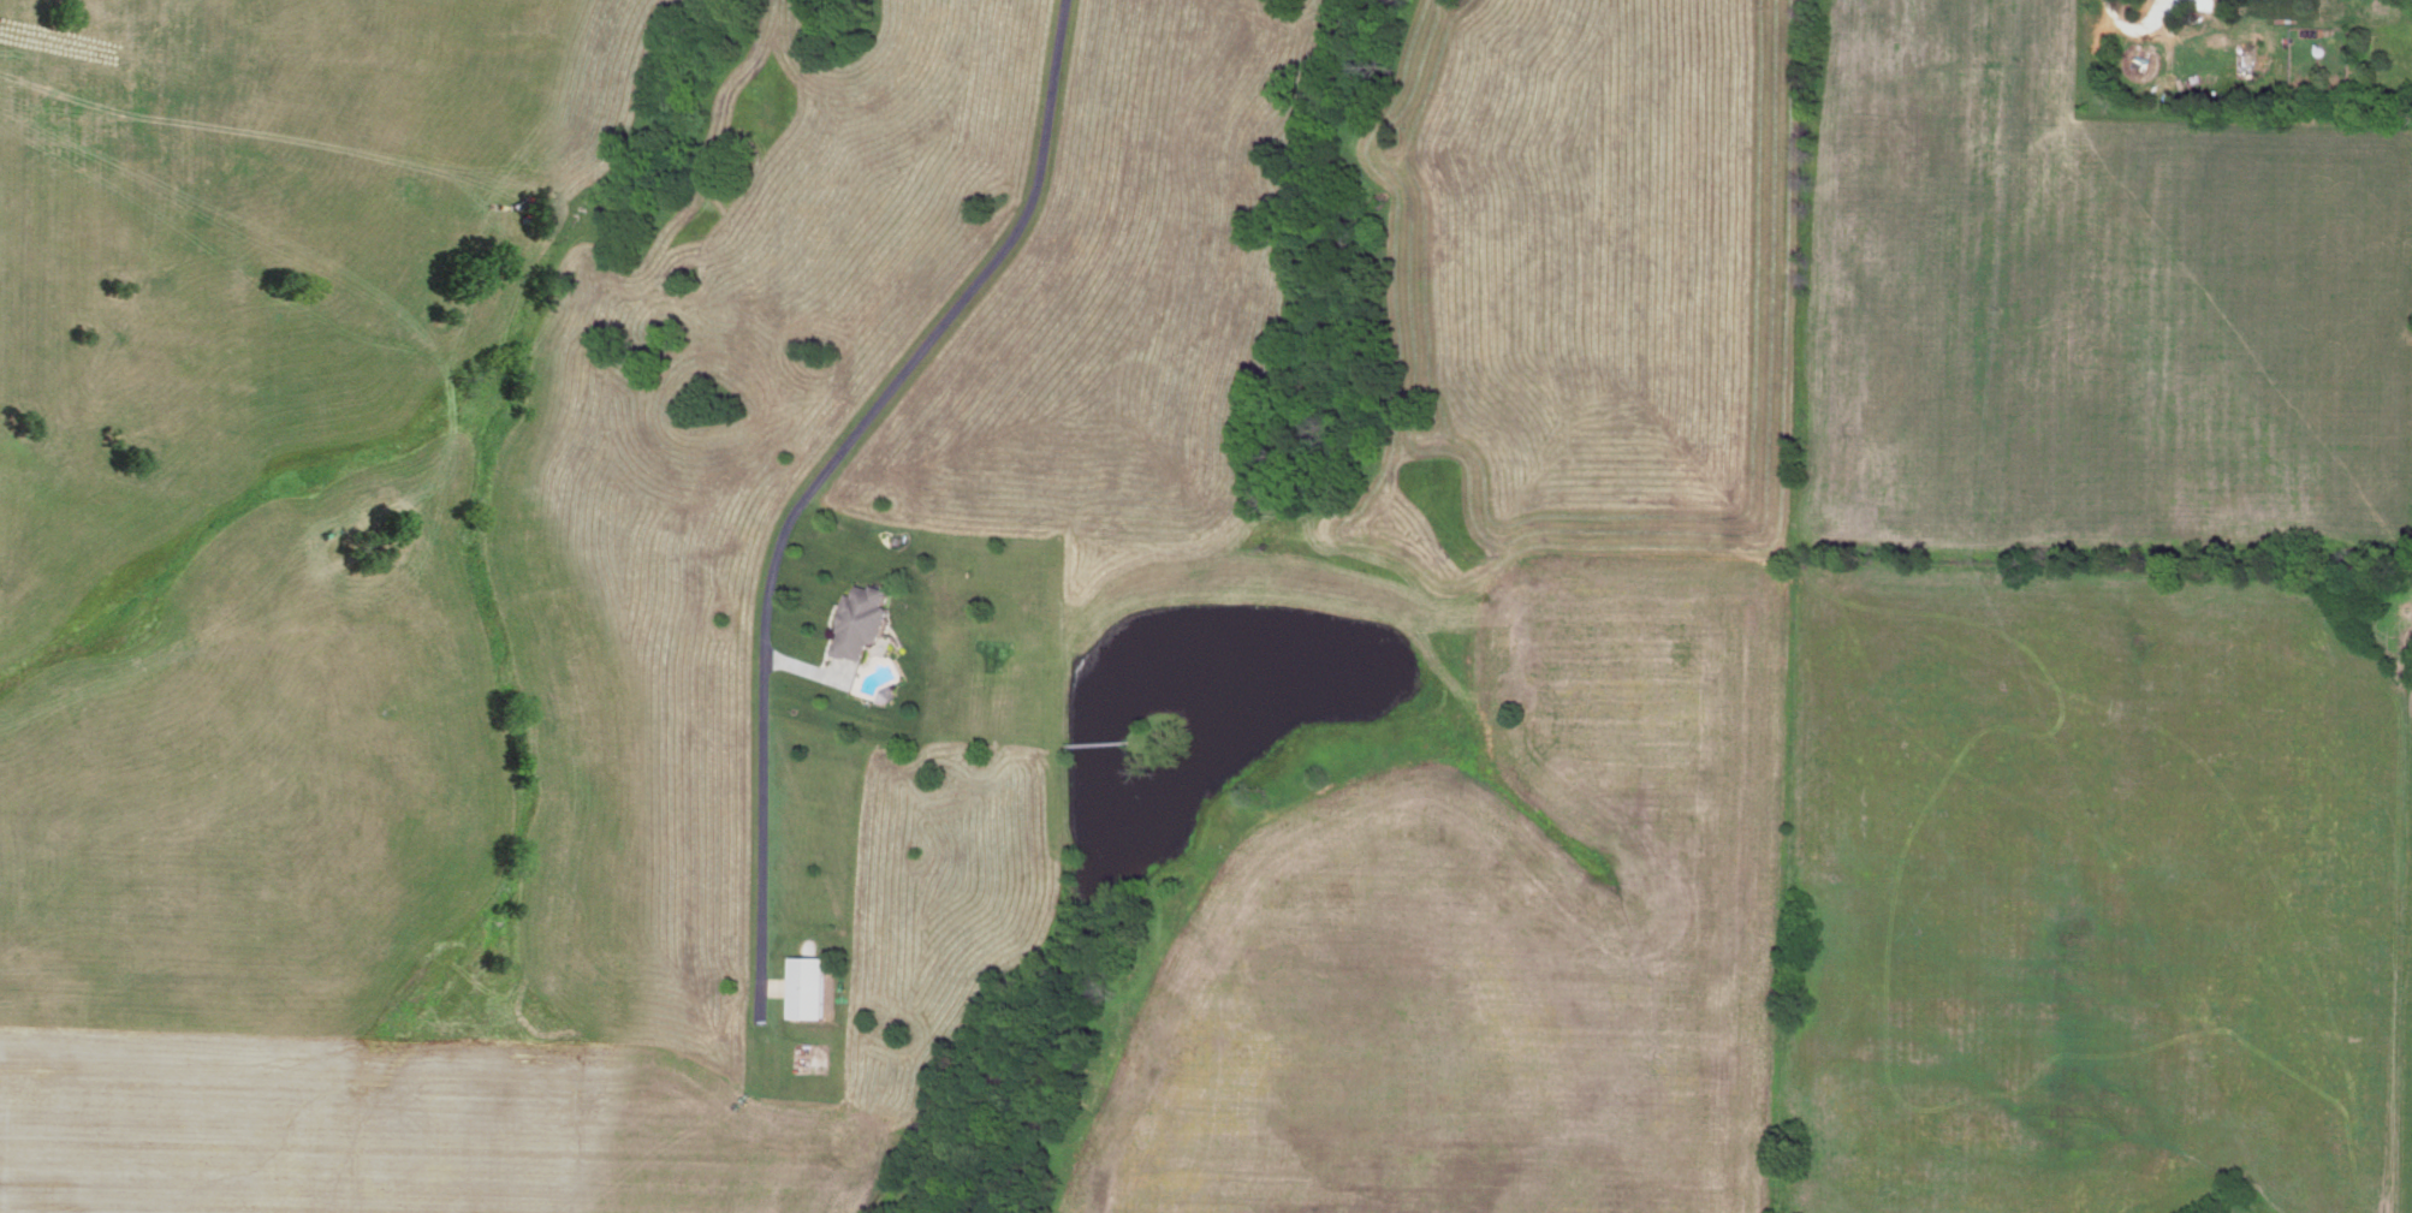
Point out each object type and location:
road: (2127, 32)
road: (832, 474)
building: (808, 986)

